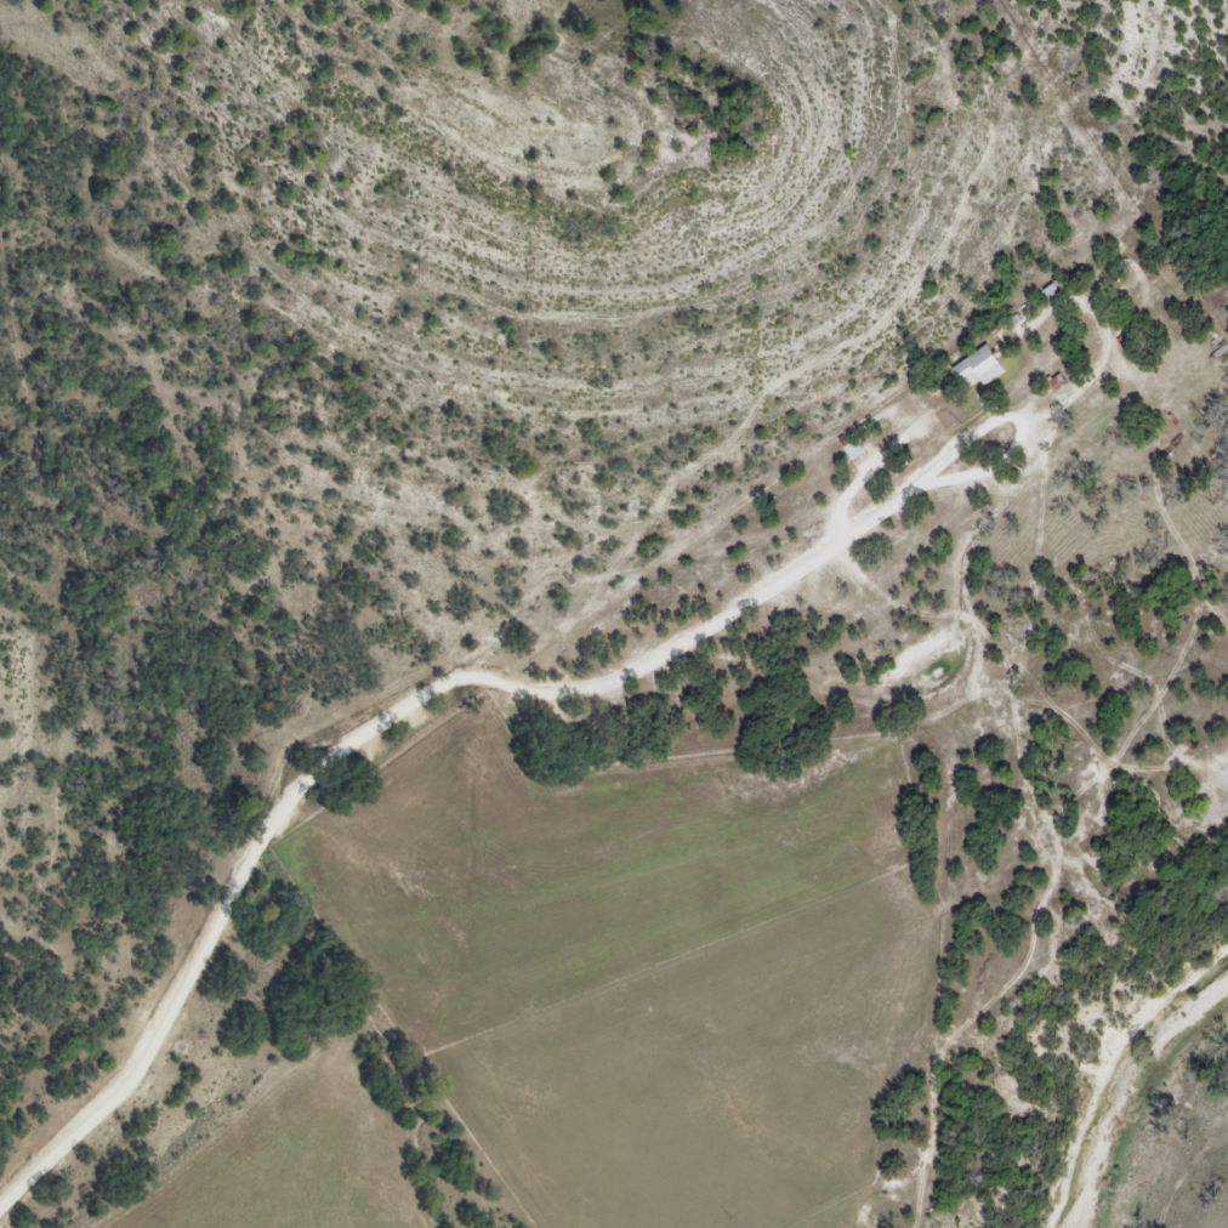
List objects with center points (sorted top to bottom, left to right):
building: (977, 370)
building: (853, 451)
road: (404, 707)

